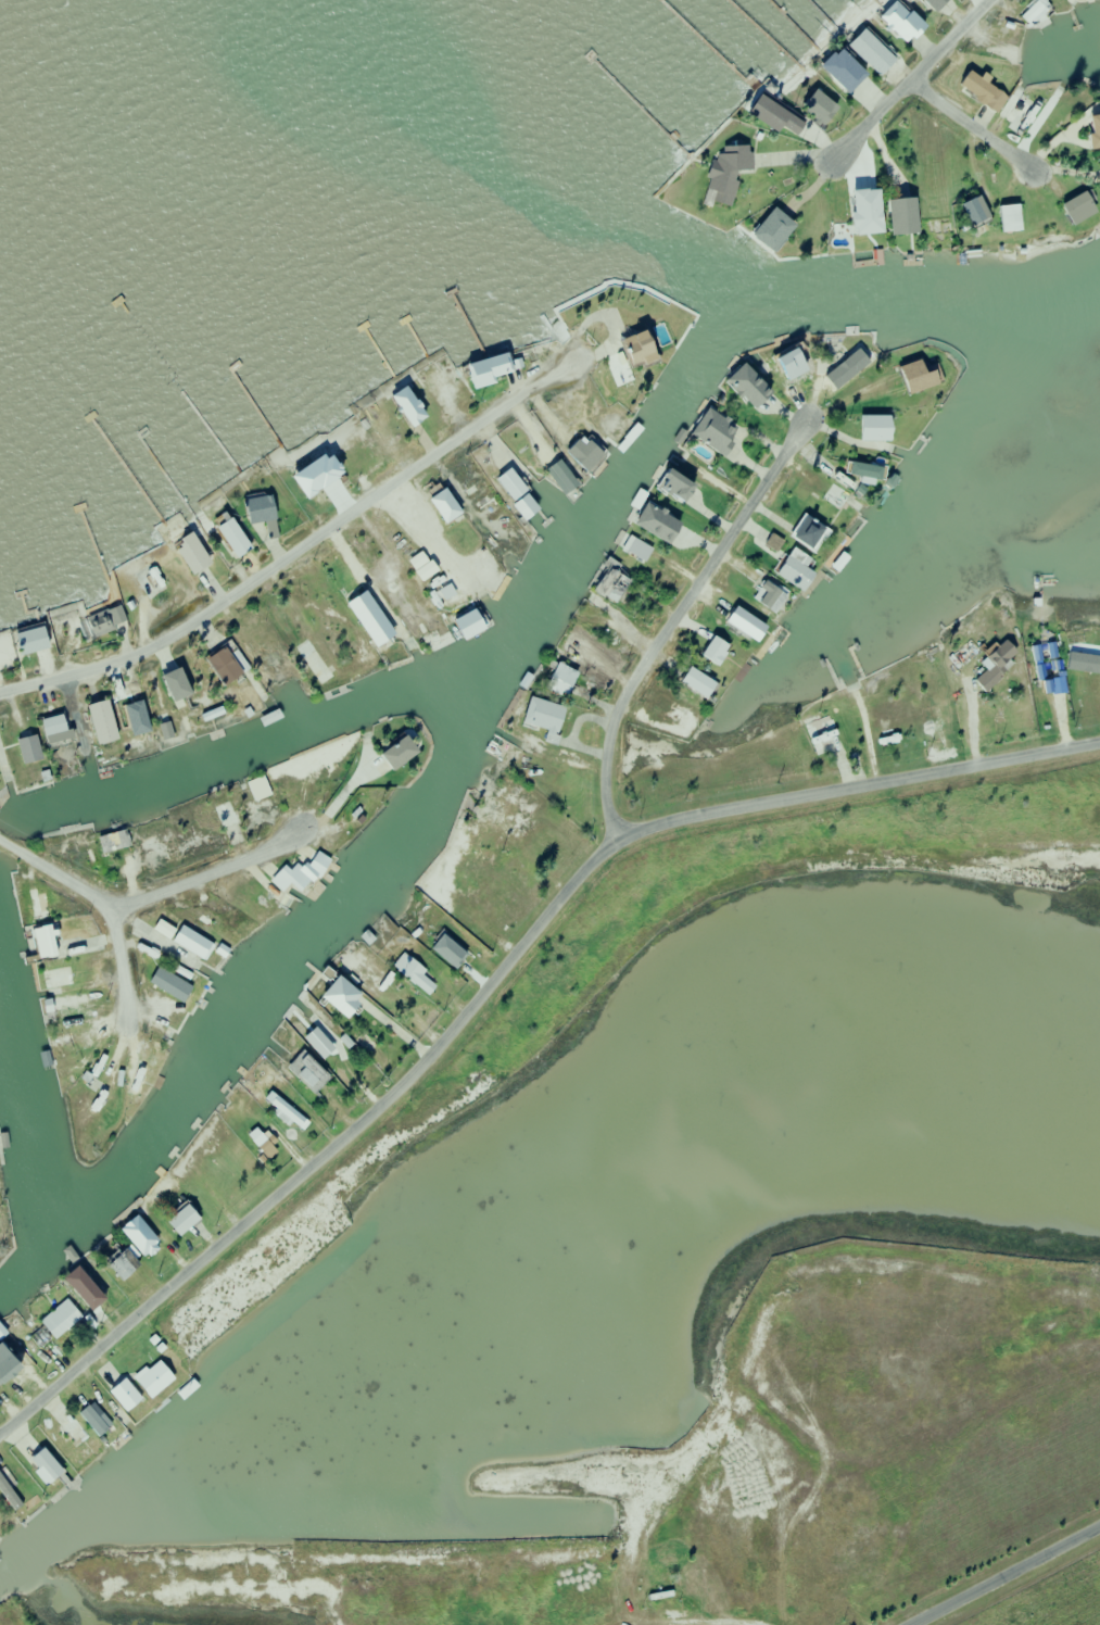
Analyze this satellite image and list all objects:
building: (1061, 1)
building: (926, 4)
building: (1029, 12)
building: (892, 21)
building: (862, 51)
building: (831, 71)
road: (906, 79)
building: (995, 101)
building: (811, 108)
building: (764, 116)
road: (969, 124)
building: (1091, 129)
building: (718, 173)
building: (1072, 207)
building: (969, 210)
building: (862, 216)
building: (896, 216)
building: (1007, 218)
building: (758, 230)
building: (618, 362)
building: (844, 365)
building: (781, 367)
building: (478, 369)
building: (913, 377)
building: (739, 386)
building: (438, 391)
building: (402, 408)
building: (868, 428)
building: (710, 432)
building: (355, 452)
building: (578, 453)
building: (860, 470)
building: (319, 471)
building: (465, 480)
building: (663, 486)
building: (510, 493)
building: (833, 497)
building: (480, 503)
building: (439, 506)
building: (265, 508)
building: (802, 533)
building: (239, 538)
road: (295, 546)
building: (631, 549)
building: (198, 554)
building: (792, 570)
building: (157, 582)
building: (605, 584)
building: (766, 597)
building: (92, 618)
road: (669, 619)
building: (736, 622)
building: (465, 623)
building: (45, 640)
building: (434, 641)
building: (572, 647)
building: (708, 651)
building: (962, 653)
building: (998, 654)
building: (277, 662)
building: (319, 663)
building: (230, 666)
building: (1074, 668)
building: (985, 680)
building: (558, 682)
building: (692, 682)
building: (182, 685)
building: (893, 711)
building: (536, 717)
building: (115, 718)
building: (61, 729)
building: (817, 735)
building: (405, 754)
road: (854, 783)
building: (262, 789)
building: (286, 795)
building: (364, 810)
building: (231, 815)
building: (485, 819)
building: (118, 842)
building: (79, 847)
building: (93, 861)
road: (56, 871)
road: (205, 873)
building: (304, 873)
building: (495, 894)
building: (43, 906)
building: (207, 923)
building: (166, 929)
building: (194, 942)
building: (50, 943)
building: (462, 955)
road: (121, 963)
building: (415, 972)
building: (66, 978)
building: (374, 980)
building: (177, 987)
building: (347, 998)
building: (79, 1000)
building: (79, 1040)
building: (325, 1045)
building: (312, 1071)
building: (143, 1078)
building: (96, 1108)
building: (264, 1143)
road: (323, 1152)
building: (188, 1219)
building: (146, 1242)
building: (123, 1264)
building: (93, 1290)
building: (63, 1319)
building: (41, 1337)
building: (16, 1361)
building: (160, 1377)
building: (130, 1396)
building: (63, 1413)
building: (99, 1421)
building: (76, 1427)
building: (65, 1443)
building: (54, 1465)
building: (10, 1491)
road: (999, 1573)

